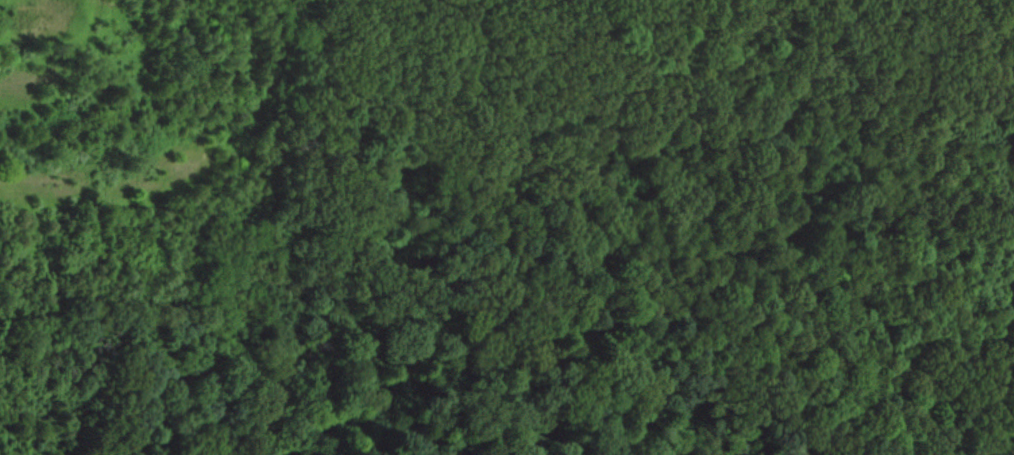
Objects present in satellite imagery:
road: (816, 22)
road: (430, 220)
park: (597, 241)
road: (905, 357)

